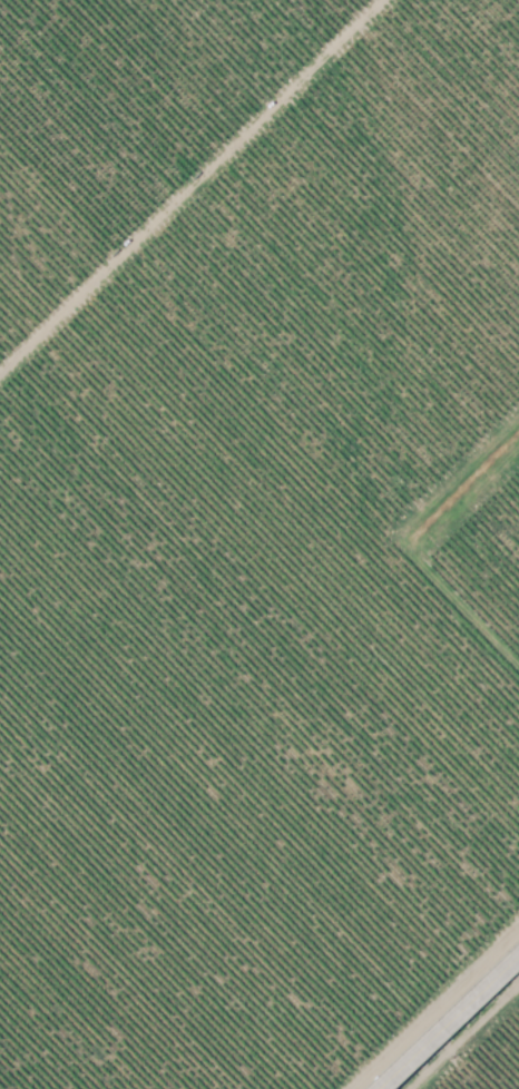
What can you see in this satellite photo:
road: (451, 1024)

